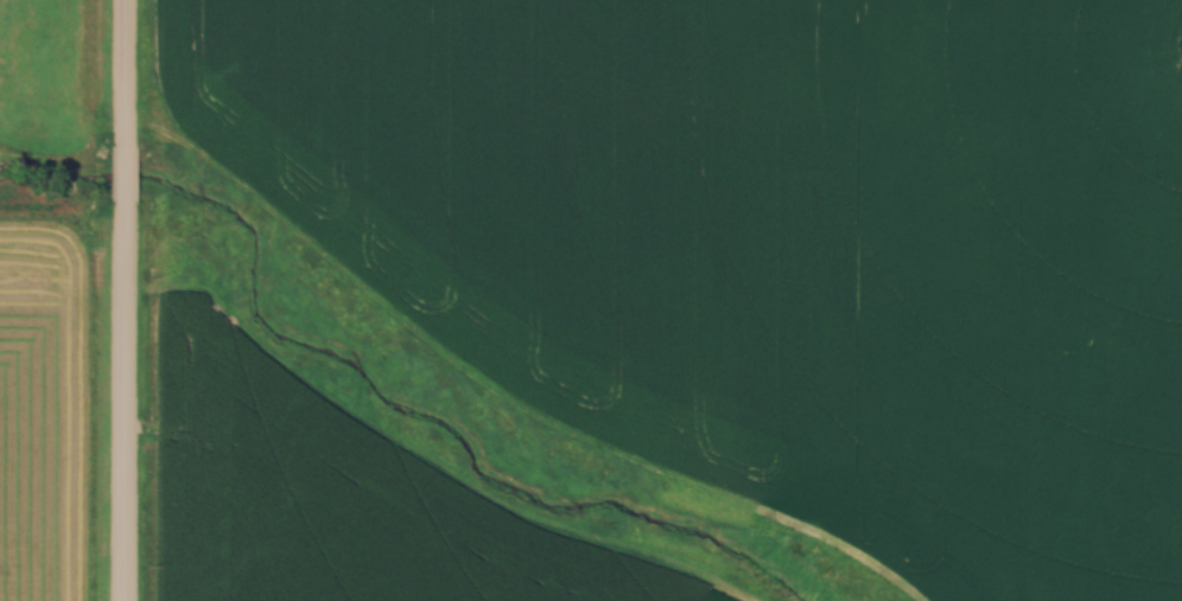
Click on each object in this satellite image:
road: (127, 300)

